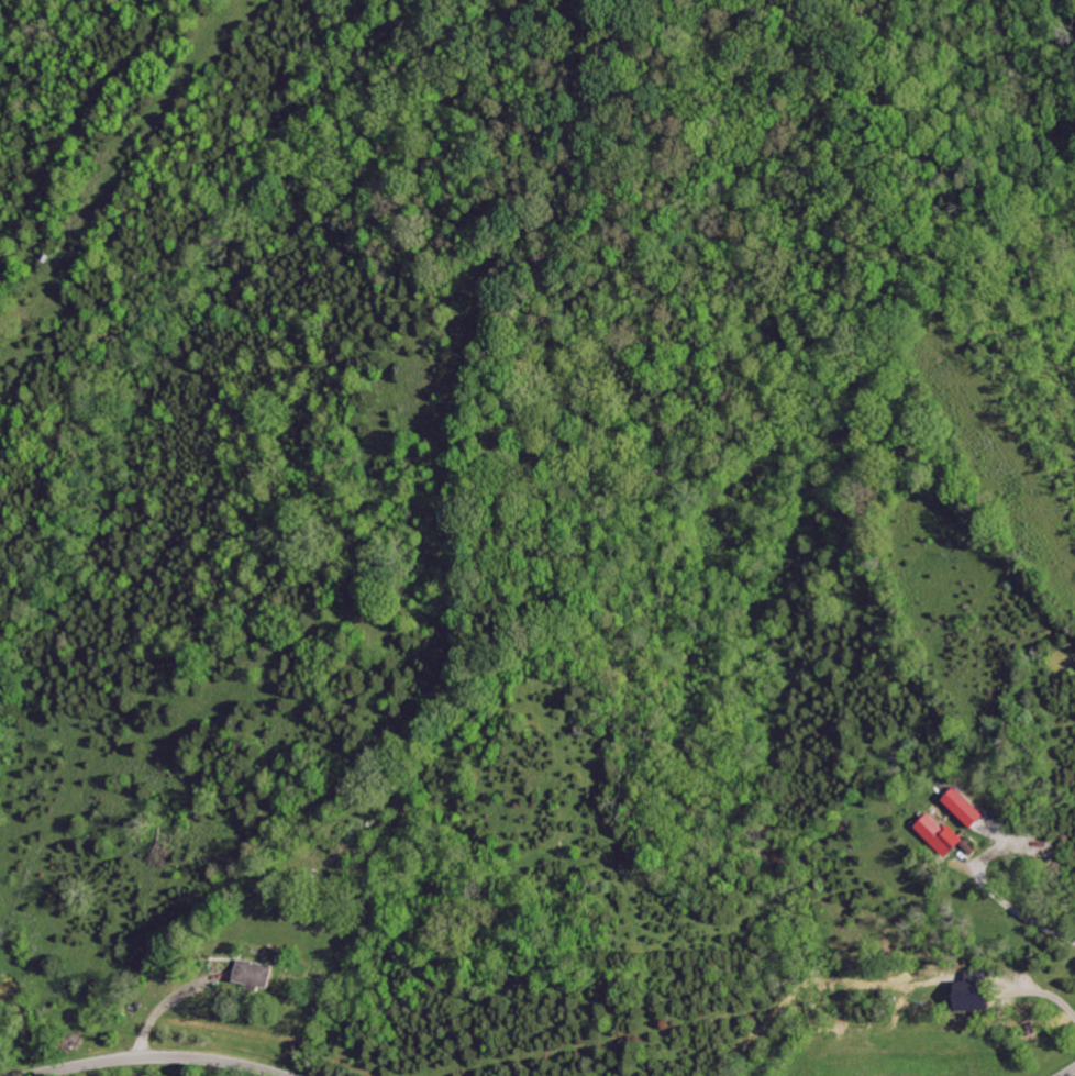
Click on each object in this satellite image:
road: (96, 178)
building: (964, 807)
building: (940, 834)
building: (254, 973)
road: (63, 989)
building: (975, 995)
road: (138, 1058)
road: (1067, 1071)

